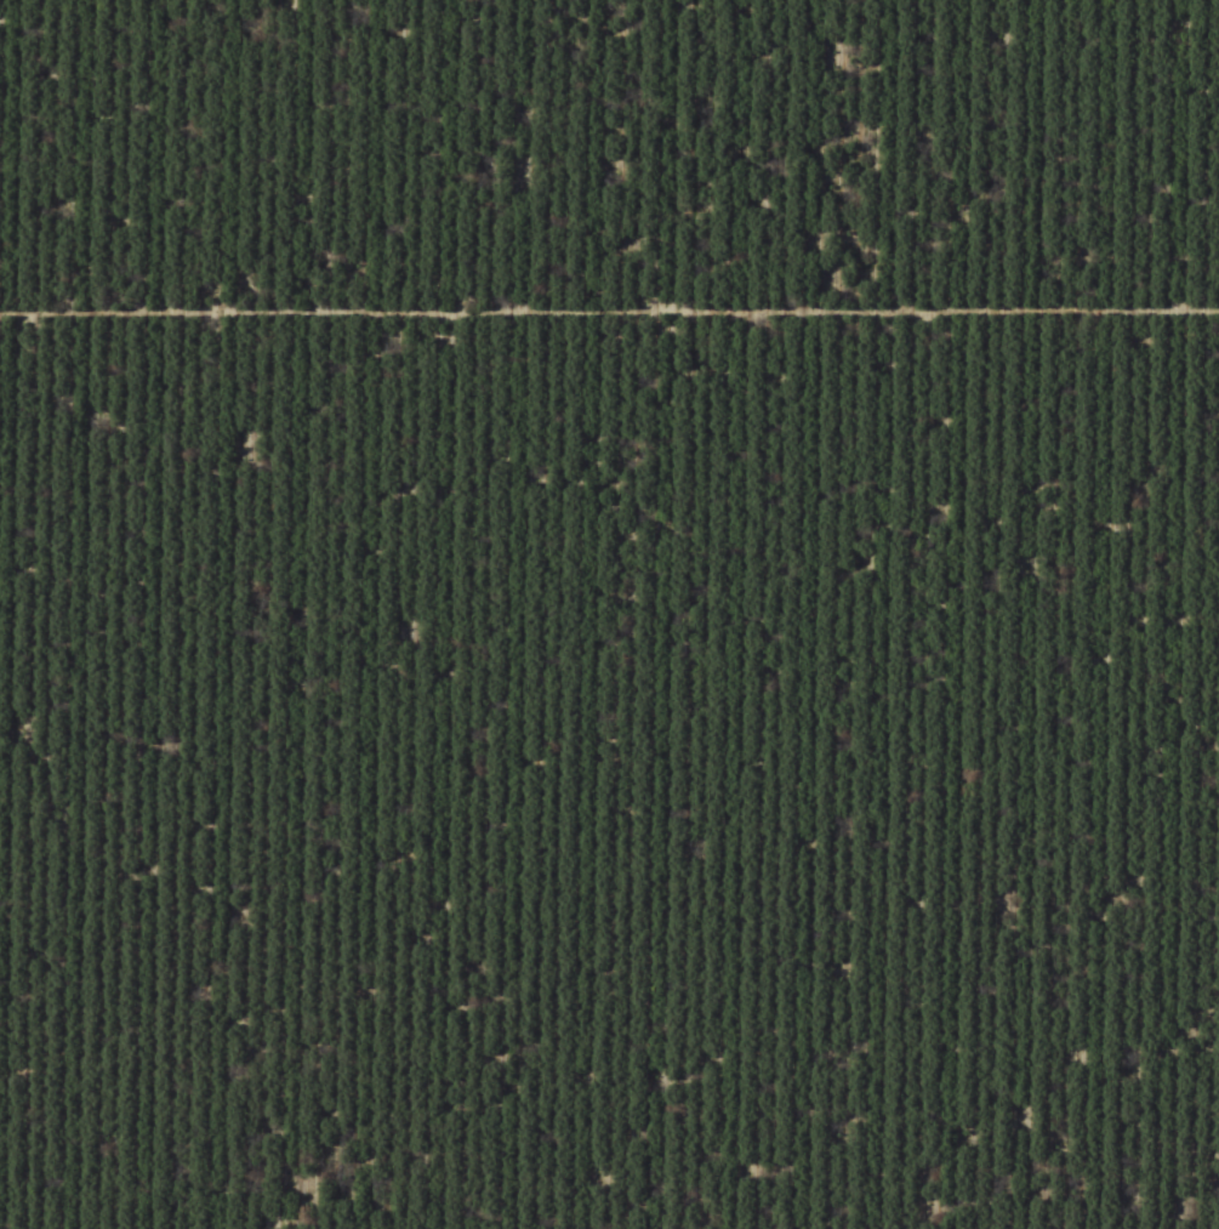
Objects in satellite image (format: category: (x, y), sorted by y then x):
crop: (609, 614)

